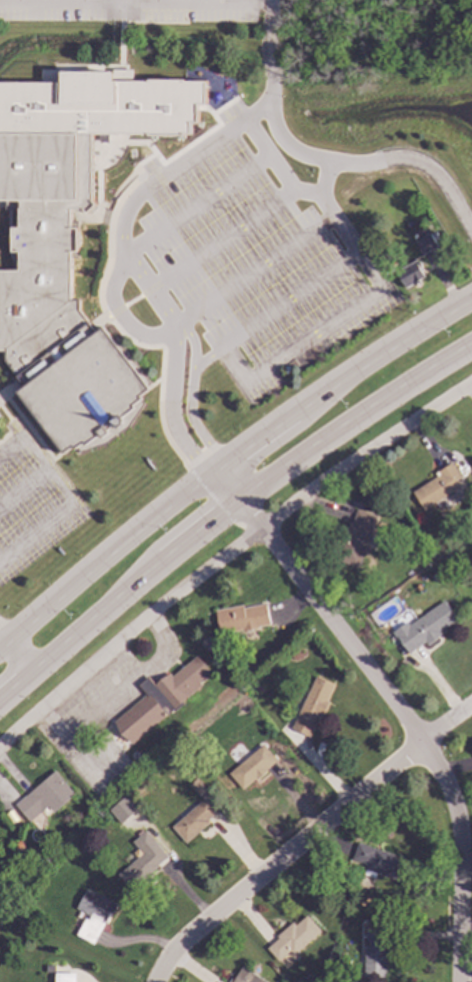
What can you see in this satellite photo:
road: (120, 0)
road: (135, 1)
parking lot: (128, 11)
road: (270, 96)
road: (418, 162)
road: (323, 178)
road: (317, 194)
road: (196, 205)
road: (127, 209)
road: (220, 240)
building: (70, 243)
building: (426, 245)
building: (388, 268)
parking lot: (253, 269)
road: (254, 270)
building: (410, 274)
road: (149, 290)
road: (289, 299)
road: (313, 334)
road: (207, 358)
road: (233, 364)
road: (188, 397)
road: (170, 407)
road: (227, 461)
road: (22, 486)
building: (438, 486)
road: (65, 495)
parking lot: (31, 500)
road: (227, 505)
building: (356, 538)
road: (229, 555)
building: (448, 560)
building: (435, 576)
building: (242, 618)
building: (424, 627)
road: (14, 652)
building: (231, 669)
building: (259, 688)
road: (116, 694)
building: (161, 699)
road: (393, 705)
building: (312, 706)
building: (193, 740)
building: (248, 742)
building: (218, 763)
building: (252, 767)
building: (197, 787)
building: (45, 797)
building: (192, 818)
road: (304, 838)
building: (16, 845)
building: (381, 863)
building: (142, 866)
building: (39, 874)
building: (94, 915)
building: (293, 938)
building: (374, 952)
building: (50, 968)
building: (64, 977)
building: (245, 977)
building: (307, 979)

